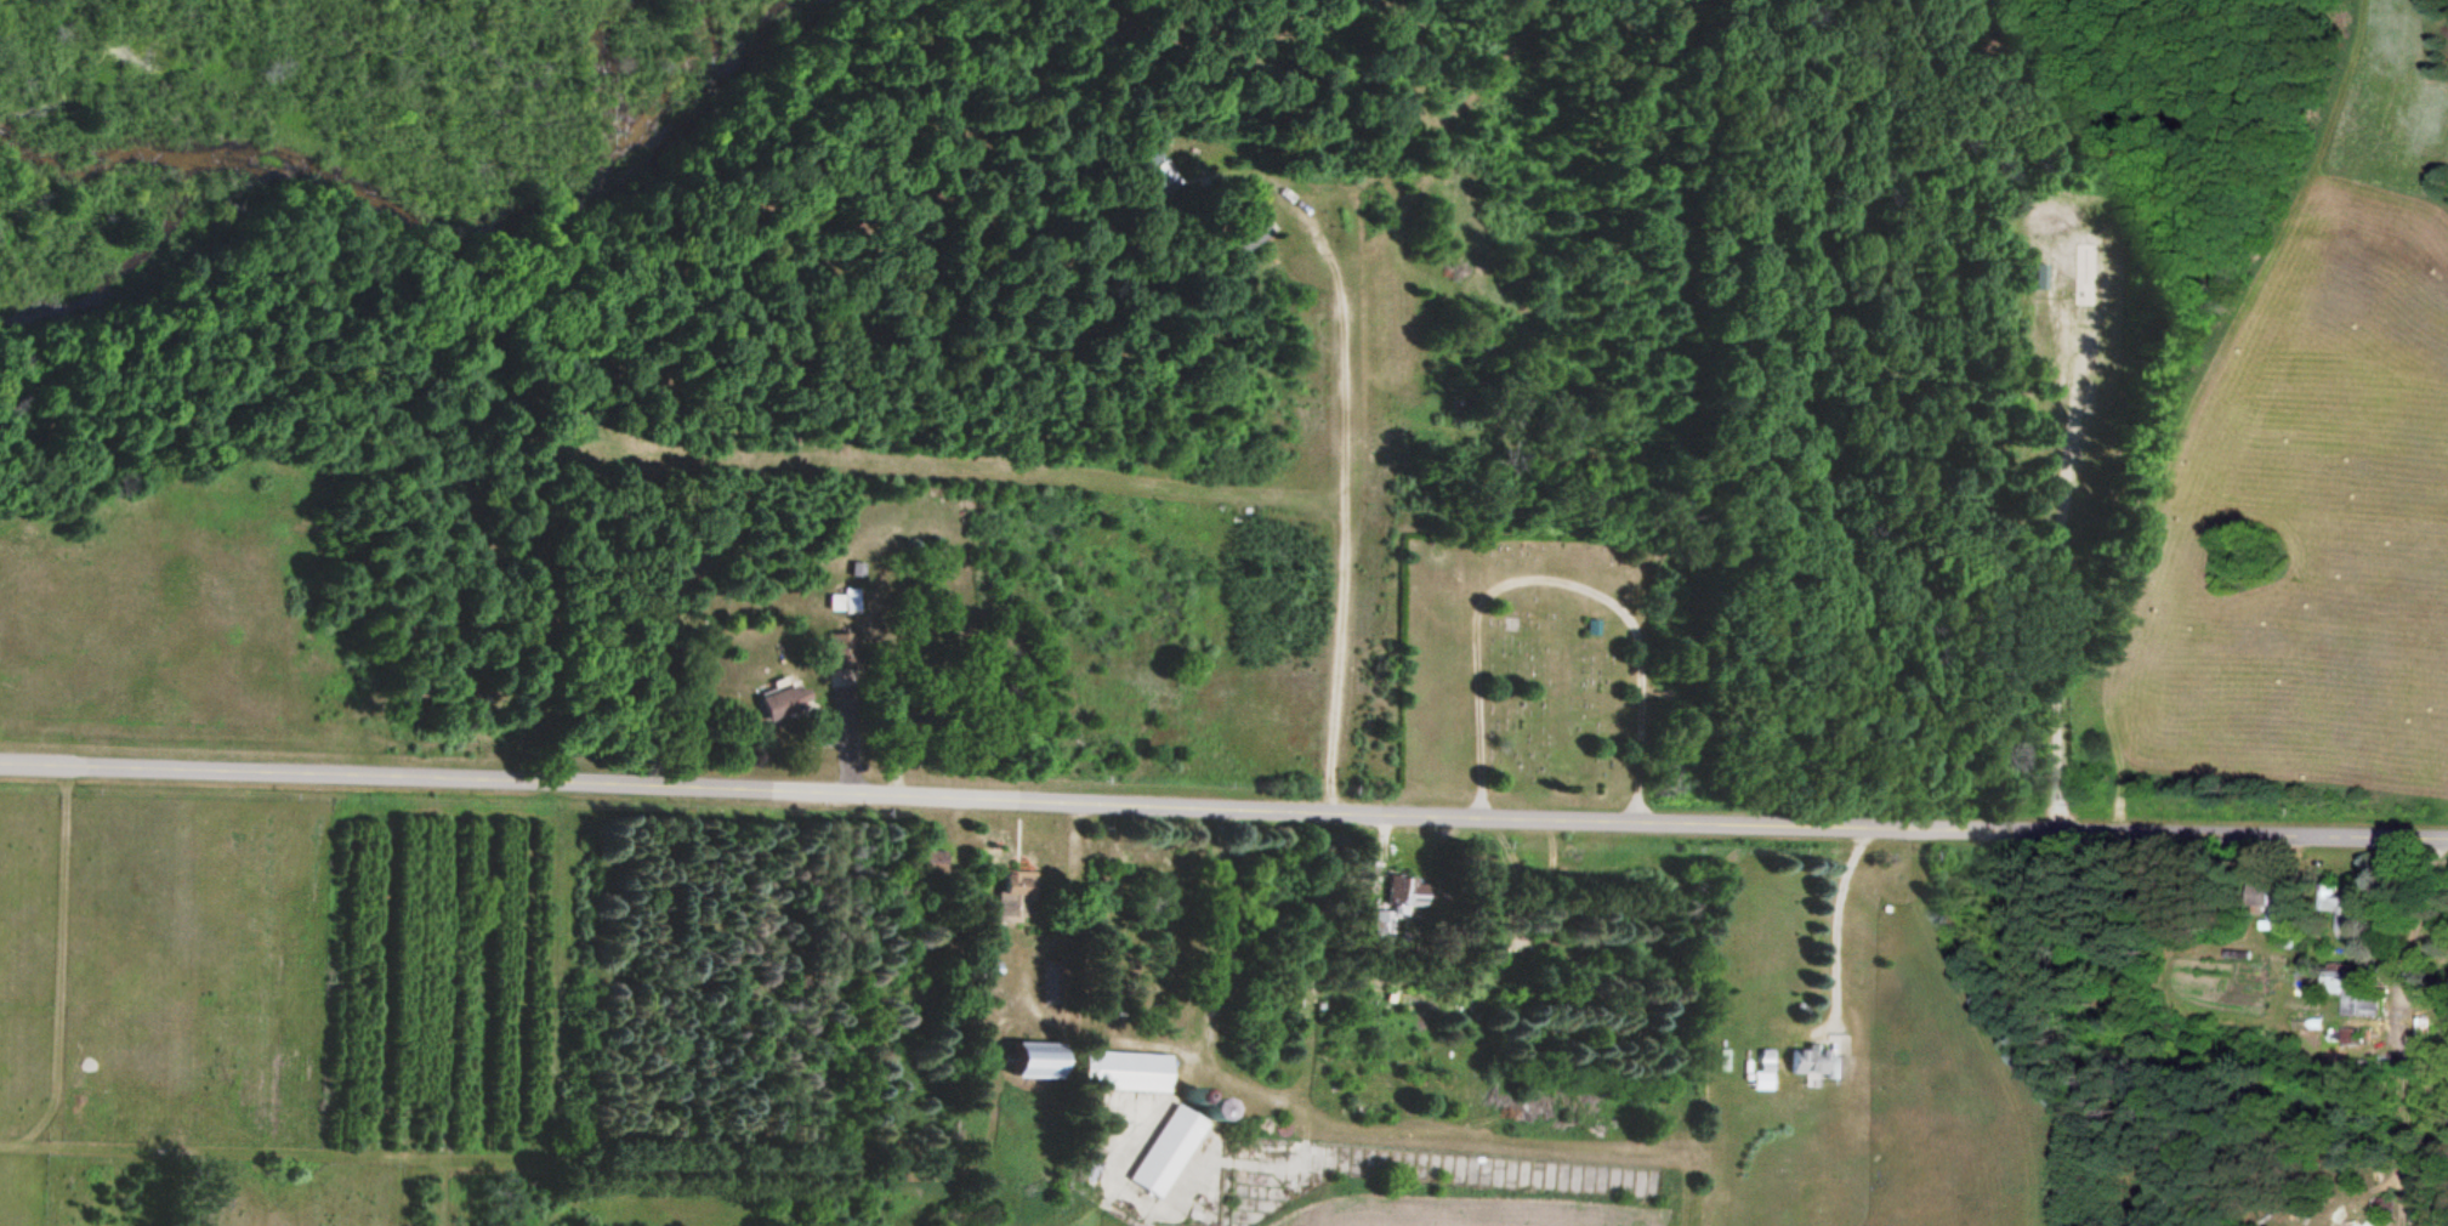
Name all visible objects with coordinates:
building: (1158, 176)
building: (1248, 229)
road: (1341, 473)
road: (1551, 583)
park: (1535, 668)
building: (774, 704)
road: (39, 761)
road: (1262, 807)
building: (1398, 893)
building: (2260, 893)
building: (2340, 910)
building: (2353, 992)
building: (1015, 1058)
building: (1808, 1063)
building: (1115, 1071)
building: (1161, 1145)

